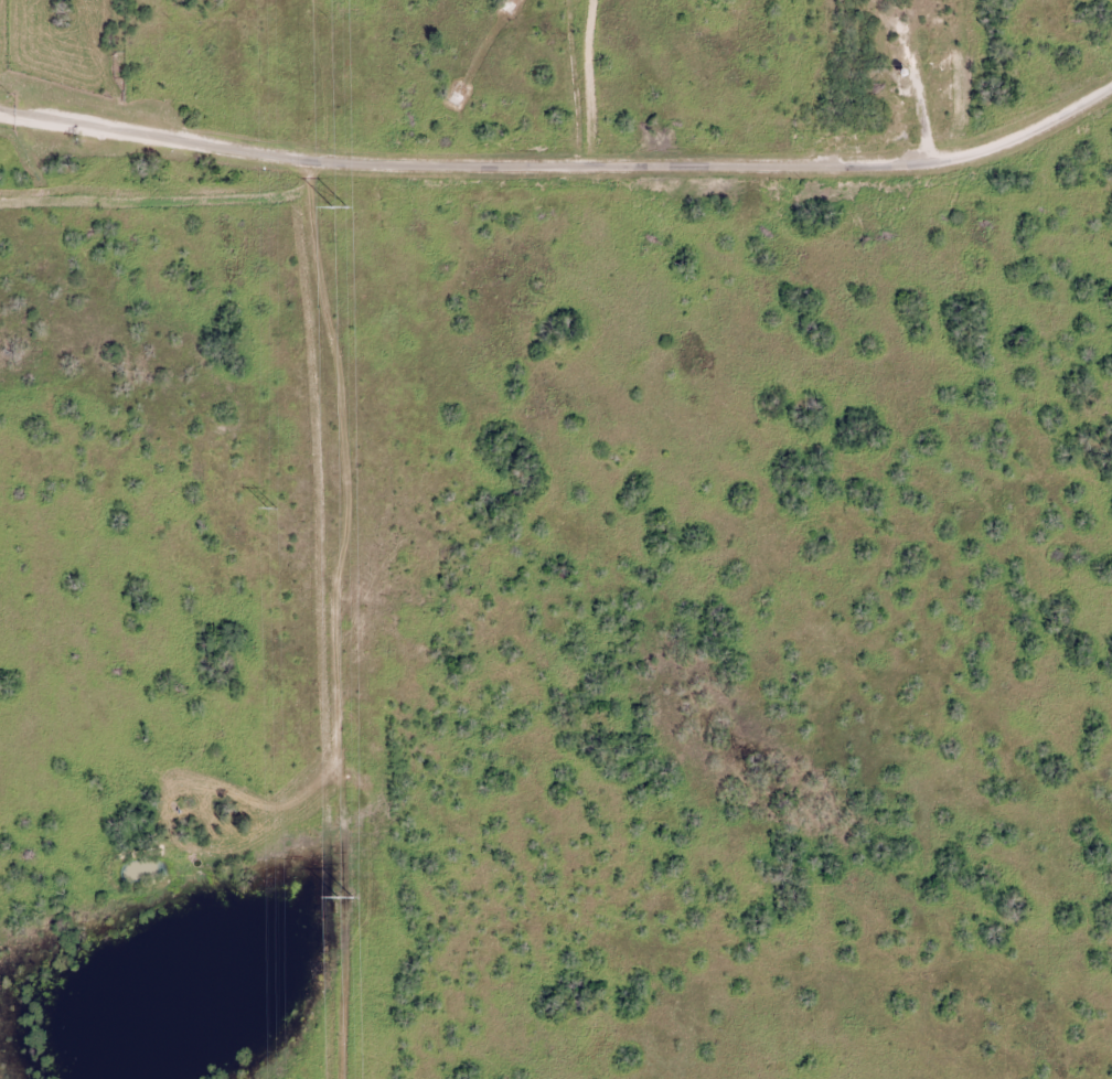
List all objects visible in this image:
road: (563, 81)
road: (557, 162)
power tower: (338, 209)
power tower: (270, 510)
power tower: (344, 898)

